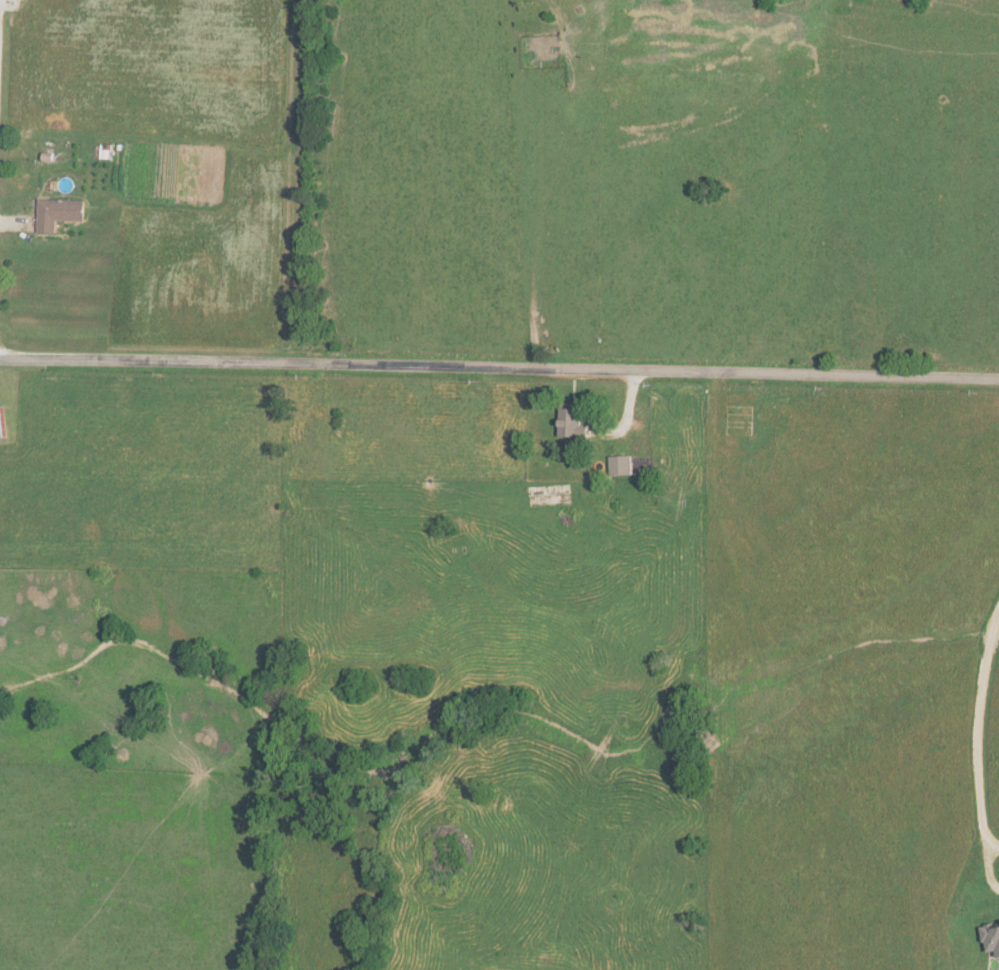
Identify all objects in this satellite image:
building: (59, 212)
road: (14, 225)
road: (499, 368)
building: (658, 420)
building: (571, 423)
building: (2, 424)
building: (620, 465)
road: (975, 735)

